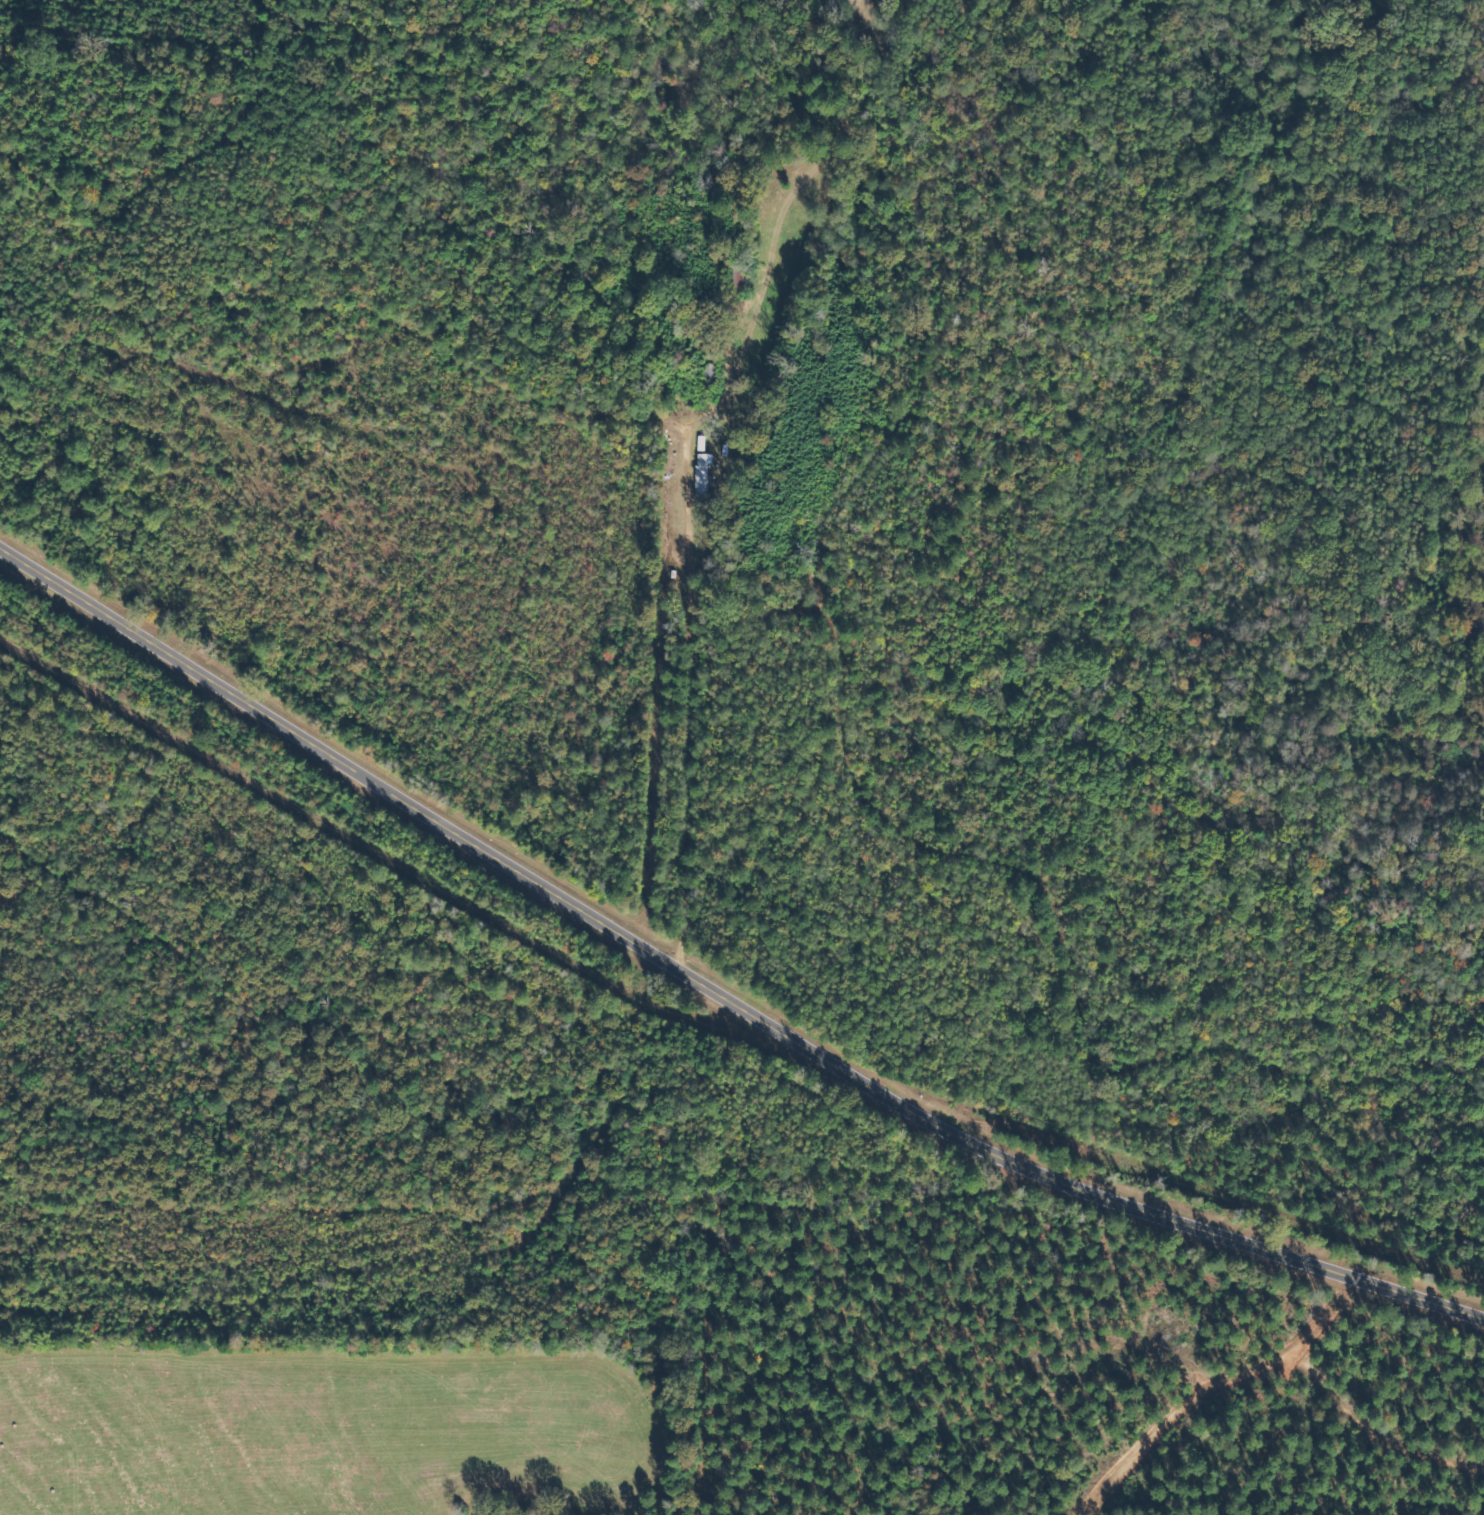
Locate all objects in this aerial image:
road: (673, 601)
road: (714, 989)

